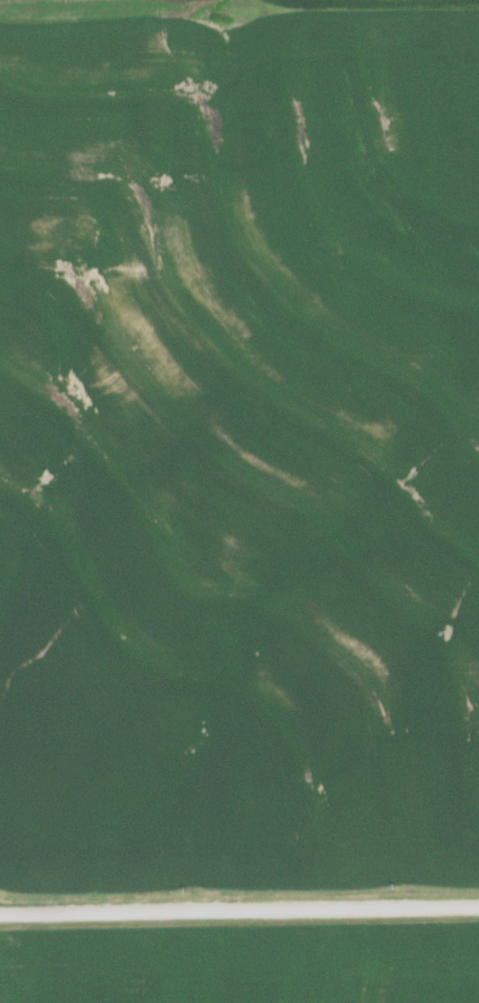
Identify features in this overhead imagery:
road: (239, 909)

